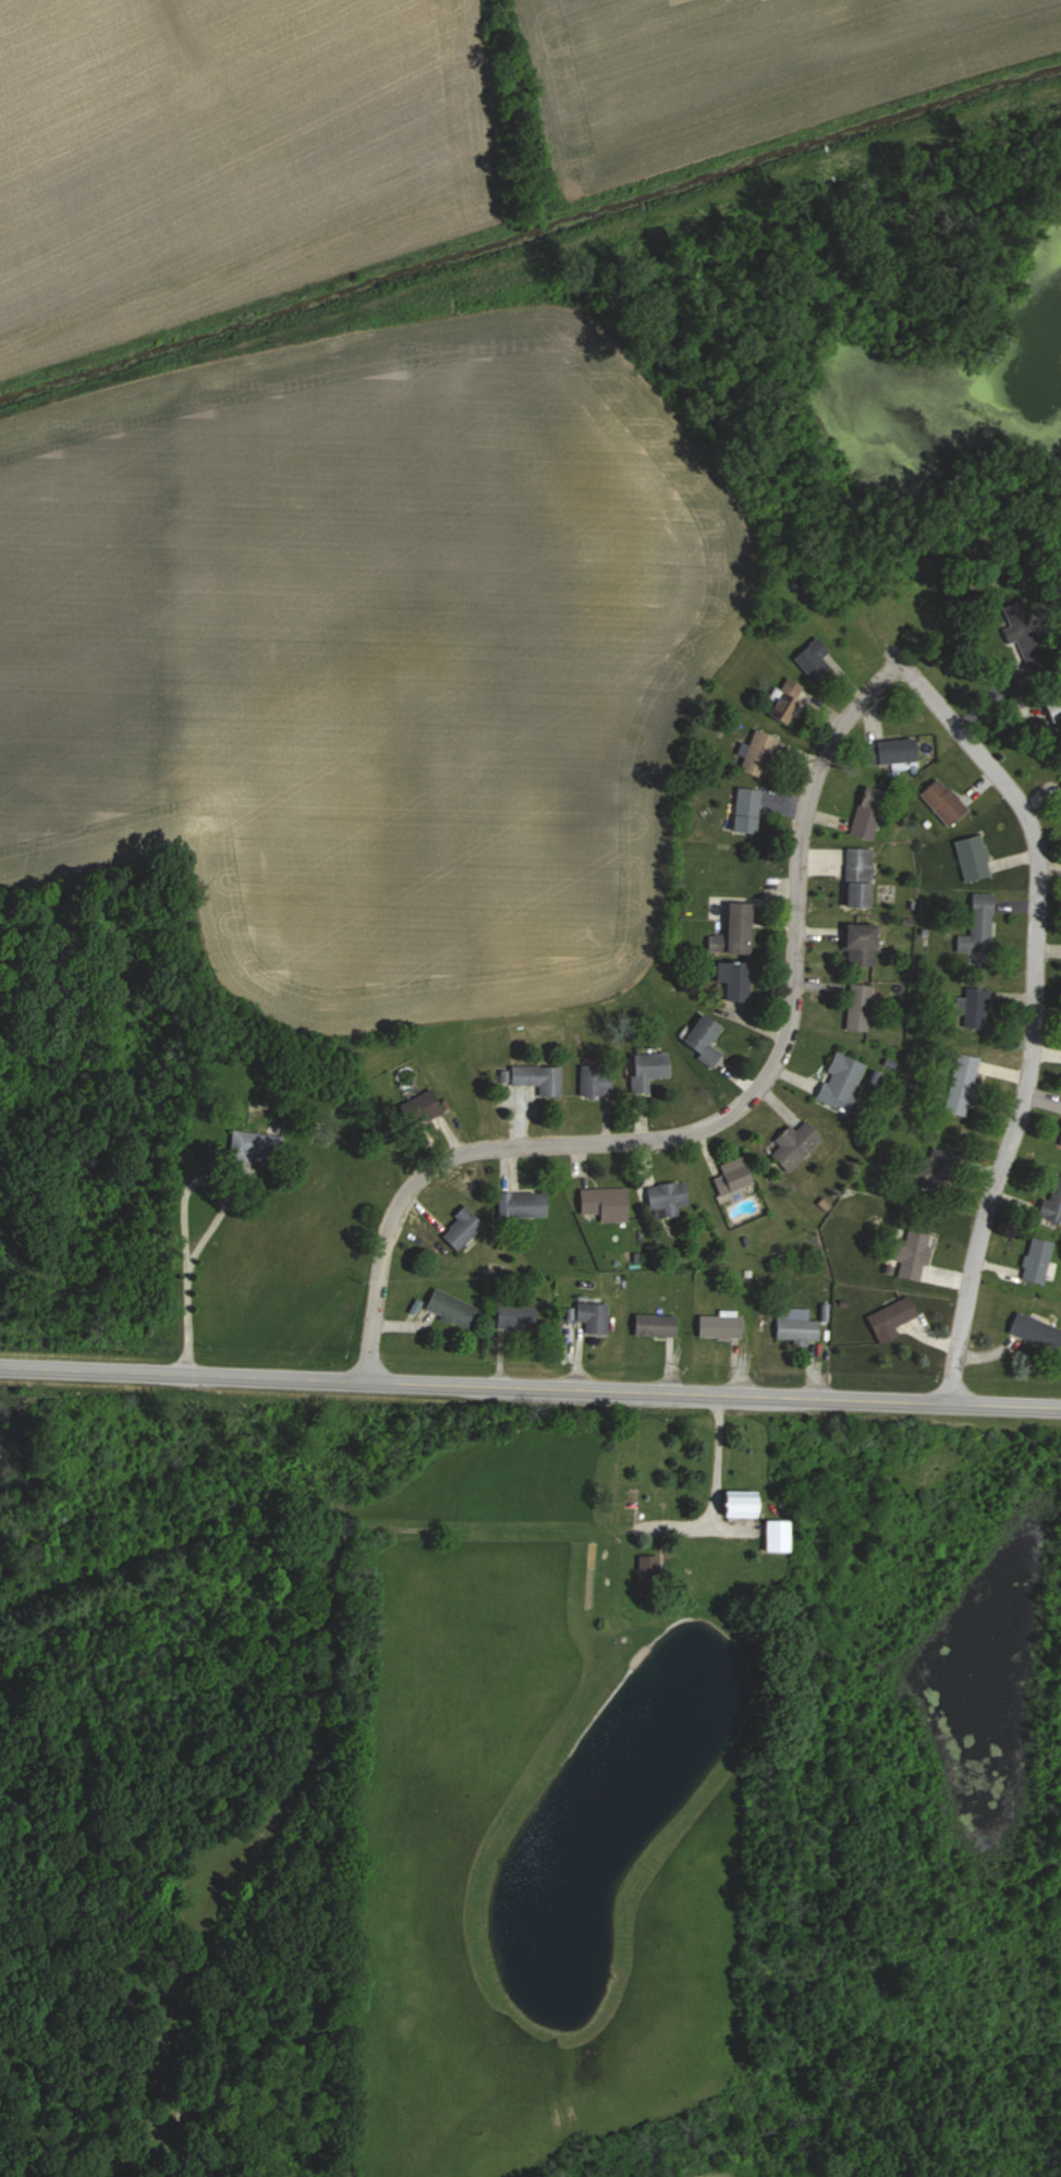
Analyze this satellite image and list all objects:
building: (812, 659)
building: (784, 702)
building: (888, 752)
building: (757, 754)
building: (940, 801)
building: (743, 811)
building: (866, 813)
building: (969, 858)
building: (855, 877)
building: (979, 921)
building: (734, 927)
building: (857, 944)
building: (730, 980)
building: (857, 1007)
building: (972, 1007)
road: (1033, 1013)
building: (700, 1038)
building: (645, 1069)
building: (536, 1078)
building: (593, 1079)
building: (840, 1081)
building: (959, 1084)
building: (416, 1107)
road: (706, 1132)
building: (1060, 1140)
building: (245, 1144)
building: (792, 1145)
building: (730, 1176)
road: (190, 1179)
building: (666, 1195)
building: (602, 1203)
building: (1050, 1203)
building: (522, 1204)
building: (459, 1228)
building: (908, 1254)
building: (1034, 1260)
building: (449, 1308)
building: (589, 1315)
building: (513, 1317)
building: (887, 1318)
road: (184, 1319)
building: (651, 1325)
building: (717, 1327)
building: (796, 1330)
building: (1032, 1330)
road: (530, 1394)
road: (711, 1500)
building: (734, 1504)
building: (773, 1535)

